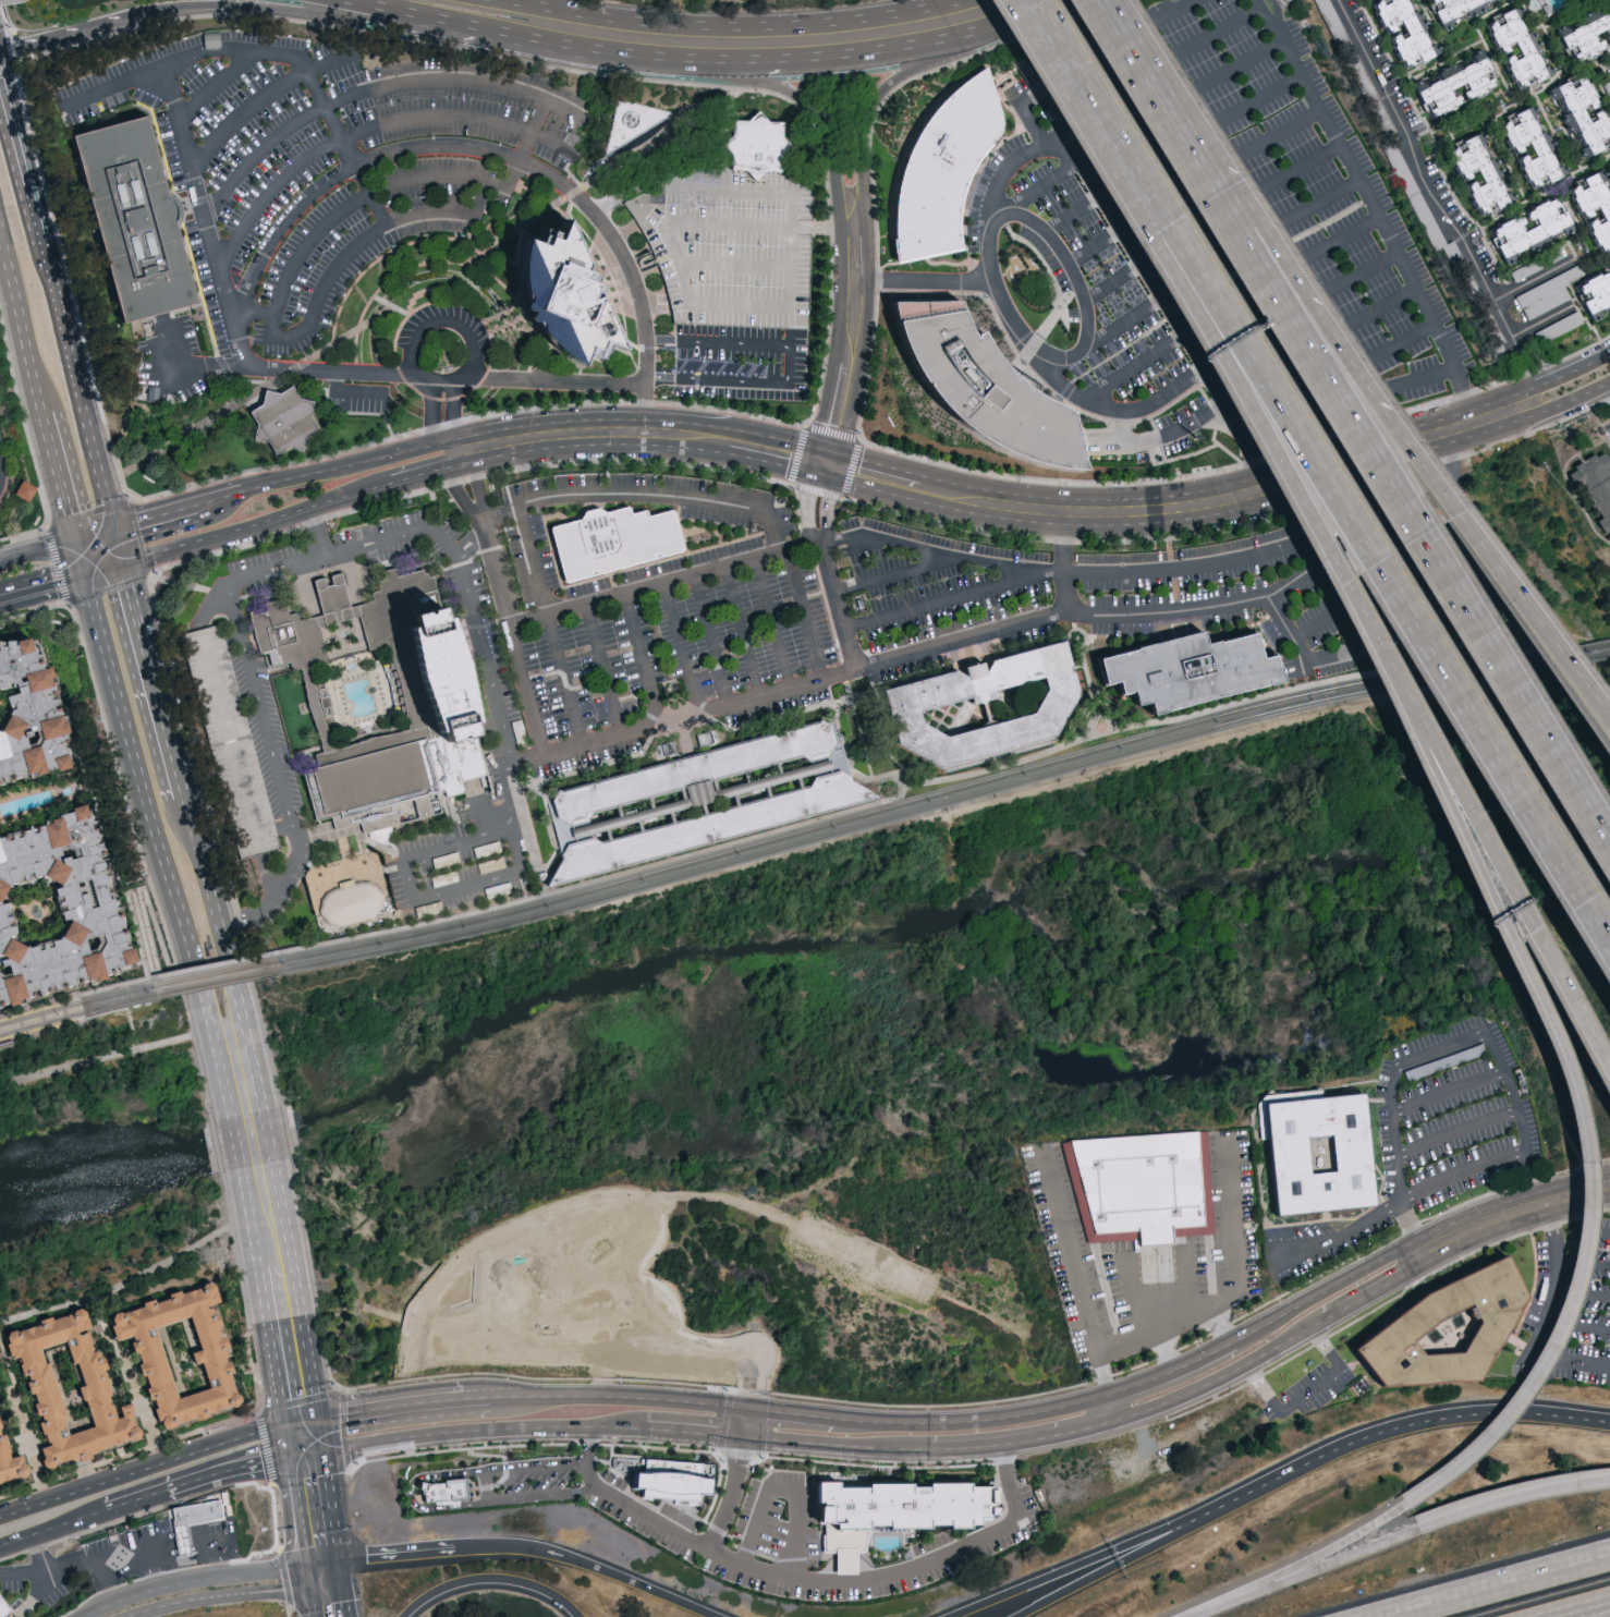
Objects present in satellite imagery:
road: (1005, 7)
road: (514, 8)
building: (1455, 8)
road: (383, 10)
road: (1176, 12)
road: (281, 13)
building: (1407, 29)
road: (485, 31)
road: (588, 32)
road: (1220, 35)
building: (1589, 39)
road: (64, 40)
road: (813, 41)
building: (1522, 48)
road: (271, 51)
road: (1142, 57)
road: (1241, 69)
road: (219, 78)
road: (383, 86)
road: (171, 88)
building: (1459, 92)
road: (1093, 93)
road: (794, 95)
road: (265, 97)
road: (1025, 98)
road: (871, 101)
road: (1260, 101)
building: (1581, 115)
road: (380, 124)
road: (184, 133)
road: (11, 135)
road: (1281, 135)
road: (526, 143)
road: (1198, 143)
building: (751, 144)
building: (1536, 144)
road: (471, 148)
road: (1301, 167)
building: (1485, 172)
building: (946, 173)
road: (1049, 185)
road: (479, 198)
road: (623, 198)
road: (359, 200)
building: (1598, 202)
road: (1322, 204)
road: (687, 205)
road: (1440, 207)
road: (1377, 214)
road: (1076, 215)
road: (34, 223)
road: (209, 223)
building: (149, 224)
building: (1532, 231)
road: (1343, 242)
road: (1097, 245)
road: (347, 250)
road: (1064, 251)
building: (1538, 265)
road: (733, 266)
road: (1364, 275)
road: (1534, 279)
road: (925, 281)
road: (1115, 281)
building: (1547, 288)
road: (1304, 291)
building: (560, 293)
building: (1596, 295)
building: (1548, 302)
road: (758, 306)
road: (246, 307)
road: (1381, 307)
road: (444, 315)
road: (23, 319)
road: (1545, 321)
building: (1563, 324)
road: (1105, 333)
road: (1403, 339)
road: (851, 361)
road: (791, 365)
road: (279, 368)
road: (1137, 368)
road: (1426, 377)
building: (983, 379)
road: (558, 384)
road: (1608, 390)
road: (80, 400)
road: (1130, 408)
road: (453, 413)
road: (432, 416)
building: (277, 418)
road: (1237, 422)
road: (535, 424)
road: (595, 445)
road: (456, 451)
traffic signals: (832, 452)
road: (877, 464)
road: (778, 465)
road: (425, 473)
road: (1273, 474)
traffic signals: (826, 477)
road: (1391, 477)
road: (62, 478)
road: (1303, 485)
road: (479, 487)
building: (1594, 488)
building: (17, 490)
road: (461, 493)
road: (221, 502)
road: (731, 503)
road: (1225, 516)
road: (157, 521)
road: (257, 526)
traffic signals: (114, 533)
road: (320, 535)
road: (96, 538)
building: (612, 539)
traffic signals: (78, 544)
road: (118, 549)
road: (39, 554)
road: (82, 559)
road: (1382, 559)
traffic signals: (122, 566)
road: (1499, 566)
road: (1063, 569)
road: (103, 570)
road: (497, 571)
road: (900, 573)
road: (1146, 573)
traffic signals: (86, 574)
road: (831, 574)
road: (42, 584)
road: (334, 596)
road: (937, 598)
road: (1223, 604)
road: (806, 617)
road: (514, 625)
road: (772, 625)
road: (1318, 625)
road: (743, 633)
fountain: (343, 634)
road: (712, 641)
road: (963, 642)
road: (680, 651)
road: (1302, 656)
road: (639, 661)
building: (1178, 670)
road: (249, 671)
road: (603, 671)
road: (1307, 674)
road: (151, 680)
road: (564, 682)
road: (529, 692)
building: (432, 695)
building: (908, 706)
road: (220, 709)
building: (20, 717)
road: (233, 752)
road: (560, 753)
railway: (980, 785)
building: (700, 798)
road: (883, 799)
road: (145, 801)
railway: (941, 805)
road: (443, 888)
building: (350, 902)
road: (212, 905)
building: (48, 911)
road: (1528, 935)
river: (794, 937)
railway: (315, 956)
road: (214, 964)
road: (156, 968)
road: (161, 974)
railway: (214, 974)
railway: (216, 984)
road: (111, 987)
railway: (78, 995)
road: (183, 998)
railway: (75, 1004)
road: (77, 1008)
road: (114, 1010)
railway: (76, 1012)
railway: (85, 1020)
road: (203, 1029)
road: (248, 1033)
road: (218, 1042)
road: (1437, 1048)
road: (96, 1059)
road: (1448, 1087)
road: (265, 1108)
road: (234, 1115)
road: (1457, 1129)
road: (209, 1131)
building: (1312, 1152)
road: (1582, 1168)
building: (1138, 1184)
road: (1400, 1206)
road: (1512, 1209)
road: (283, 1218)
road: (252, 1219)
road: (1410, 1228)
road: (1582, 1233)
road: (1584, 1262)
road: (1073, 1268)
road: (144, 1272)
road: (1190, 1278)
road: (1557, 1280)
road: (1378, 1287)
road: (1241, 1288)
road: (1322, 1289)
road: (1583, 1292)
road: (1150, 1310)
road: (1577, 1323)
road: (1220, 1324)
building: (1437, 1325)
road: (273, 1345)
road: (306, 1345)
building: (170, 1352)
road: (1569, 1361)
road: (1170, 1371)
road: (1223, 1372)
building: (61, 1387)
road: (1306, 1393)
road: (621, 1396)
road: (466, 1397)
road: (1111, 1406)
road: (376, 1407)
road: (769, 1410)
road: (817, 1415)
traffic signals: (319, 1418)
road: (303, 1420)
road: (974, 1420)
road: (741, 1421)
traffic signals: (288, 1423)
road: (1407, 1423)
road: (24, 1426)
road: (475, 1428)
road: (672, 1430)
road: (321, 1433)
road: (728, 1435)
road: (290, 1439)
road: (1025, 1439)
road: (836, 1443)
traffic signals: (325, 1449)
road: (308, 1452)
traffic signals: (292, 1456)
building: (8, 1466)
road: (144, 1470)
road: (230, 1471)
building: (662, 1478)
road: (487, 1487)
road: (785, 1488)
building: (440, 1490)
road: (730, 1495)
road: (1511, 1495)
road: (410, 1496)
road: (138, 1500)
building: (891, 1501)
road: (331, 1503)
road: (298, 1511)
building: (187, 1519)
road: (53, 1529)
road: (394, 1551)
traffic signals: (338, 1556)
road: (1083, 1560)
road: (321, 1561)
road: (1117, 1561)
road: (589, 1563)
road: (78, 1565)
road: (1292, 1565)
road: (151, 1567)
traffic signals: (306, 1567)
road: (339, 1568)
road: (1302, 1572)
road: (23, 1573)
road: (307, 1576)
road: (489, 1577)
road: (283, 1578)
road: (106, 1580)
road: (188, 1581)
traffic signals: (340, 1581)
road: (325, 1583)
road: (809, 1583)
road: (1491, 1584)
traffic signals: (309, 1585)
road: (215, 1595)
road: (342, 1598)
road: (312, 1601)
building: (4, 1607)
road: (1588, 1610)
road: (286, 1612)

